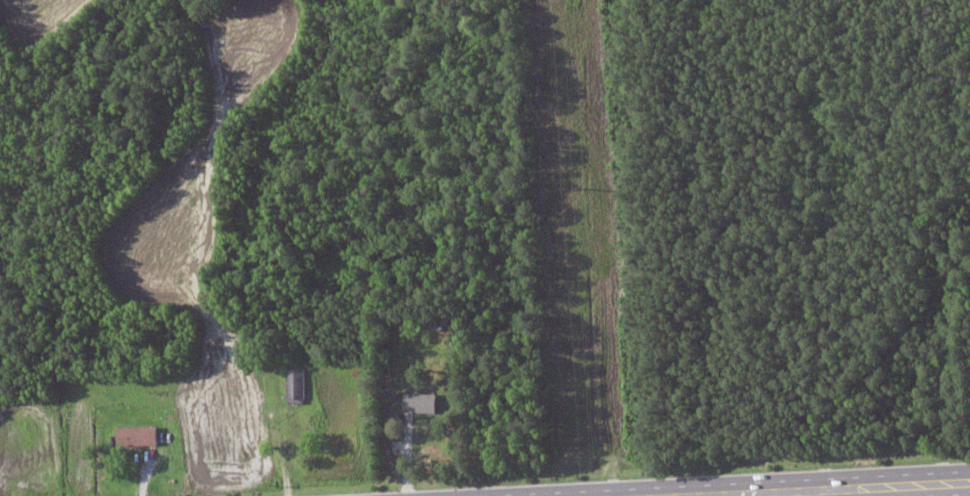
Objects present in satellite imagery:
power tower: (590, 189)
building: (298, 384)
building: (423, 401)
building: (141, 434)
road: (964, 482)
road: (824, 489)

